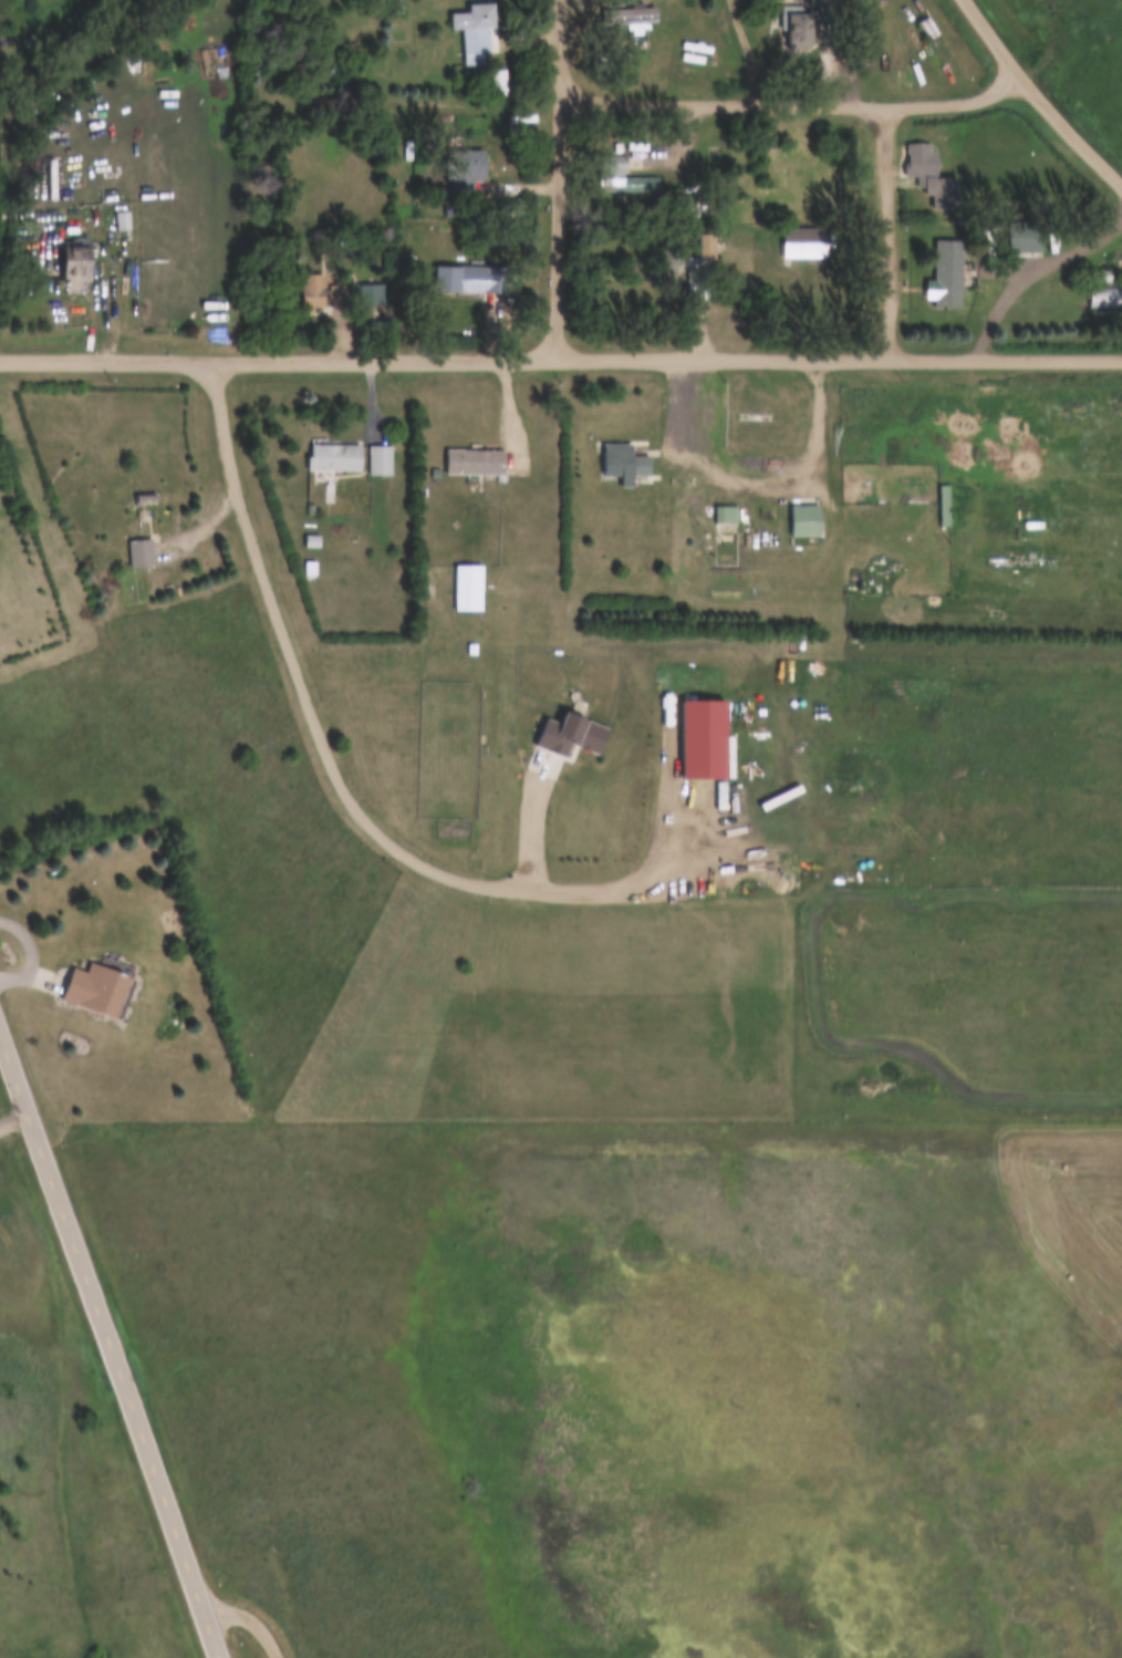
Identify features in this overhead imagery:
building: (638, 15)
building: (804, 23)
building: (925, 29)
building: (474, 32)
road: (767, 65)
road: (1038, 96)
road: (793, 101)
building: (465, 173)
building: (613, 173)
building: (931, 176)
road: (561, 178)
building: (647, 185)
building: (122, 220)
road: (892, 228)
building: (758, 237)
building: (1026, 237)
building: (803, 243)
building: (83, 263)
road: (1027, 263)
building: (666, 267)
building: (699, 270)
building: (948, 273)
building: (1099, 277)
building: (470, 280)
building: (323, 293)
building: (1104, 298)
building: (196, 301)
road: (561, 356)
building: (333, 458)
building: (377, 460)
building: (474, 462)
building: (623, 464)
road: (759, 475)
building: (939, 507)
building: (723, 515)
building: (801, 520)
building: (141, 553)
building: (309, 569)
building: (467, 588)
road: (325, 785)
road: (511, 817)
road: (32, 949)
building: (100, 989)
road: (111, 1341)
road: (250, 1618)

